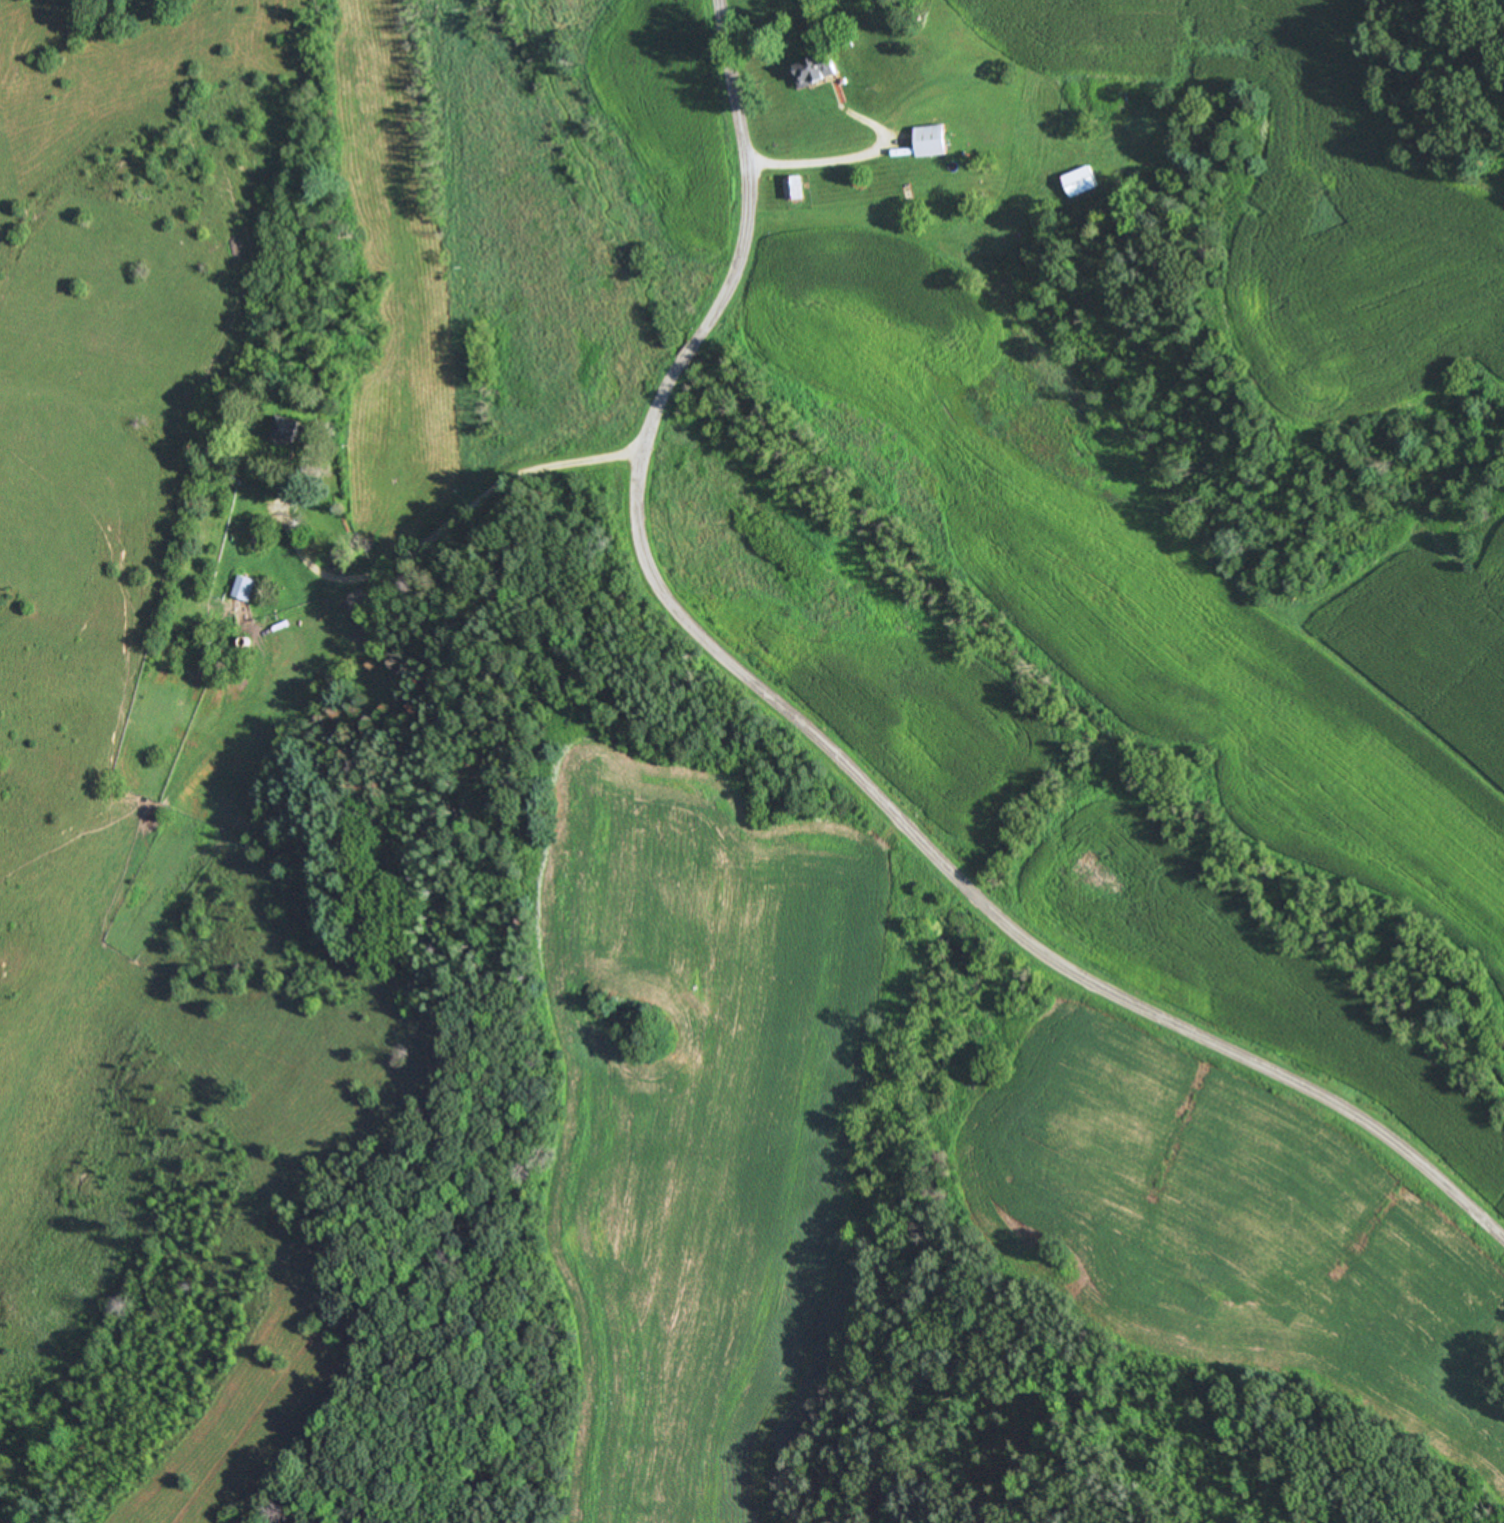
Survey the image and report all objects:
building: (816, 69)
building: (933, 140)
road: (813, 164)
building: (1078, 181)
building: (795, 188)
road: (439, 529)
building: (244, 588)
road: (819, 747)

